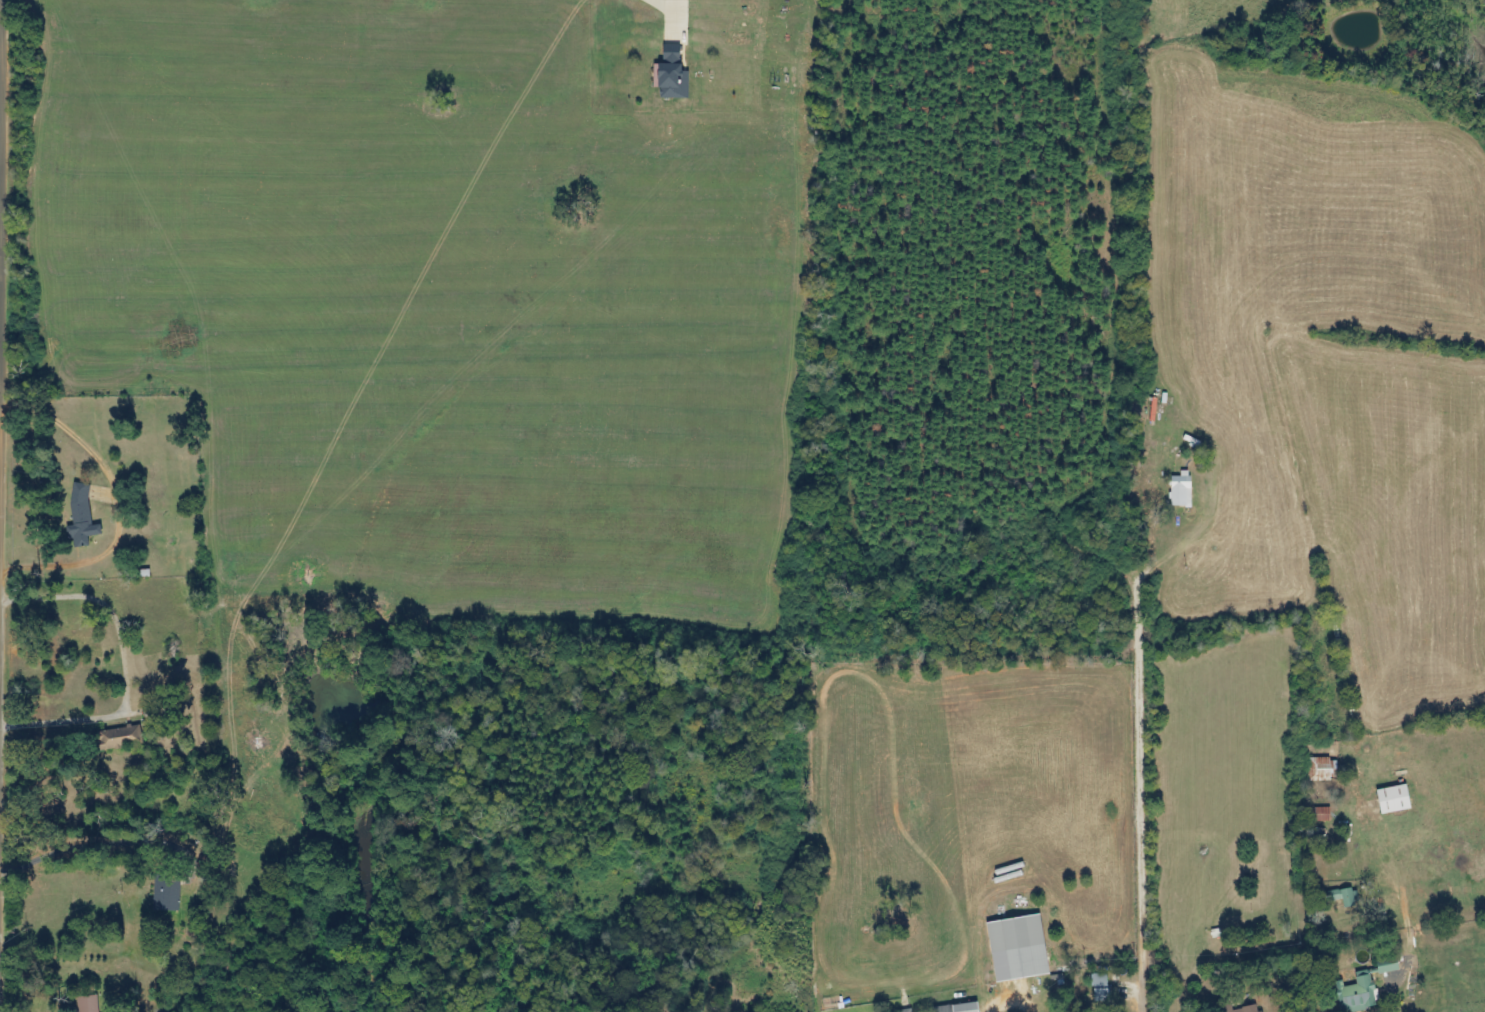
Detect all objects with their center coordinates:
building: (671, 76)
building: (1181, 490)
building: (81, 516)
building: (134, 734)
building: (1323, 769)
building: (1395, 805)
building: (167, 895)
building: (1345, 897)
building: (1018, 948)
building: (1100, 988)
building: (1357, 994)
building: (88, 1004)
building: (956, 1008)

